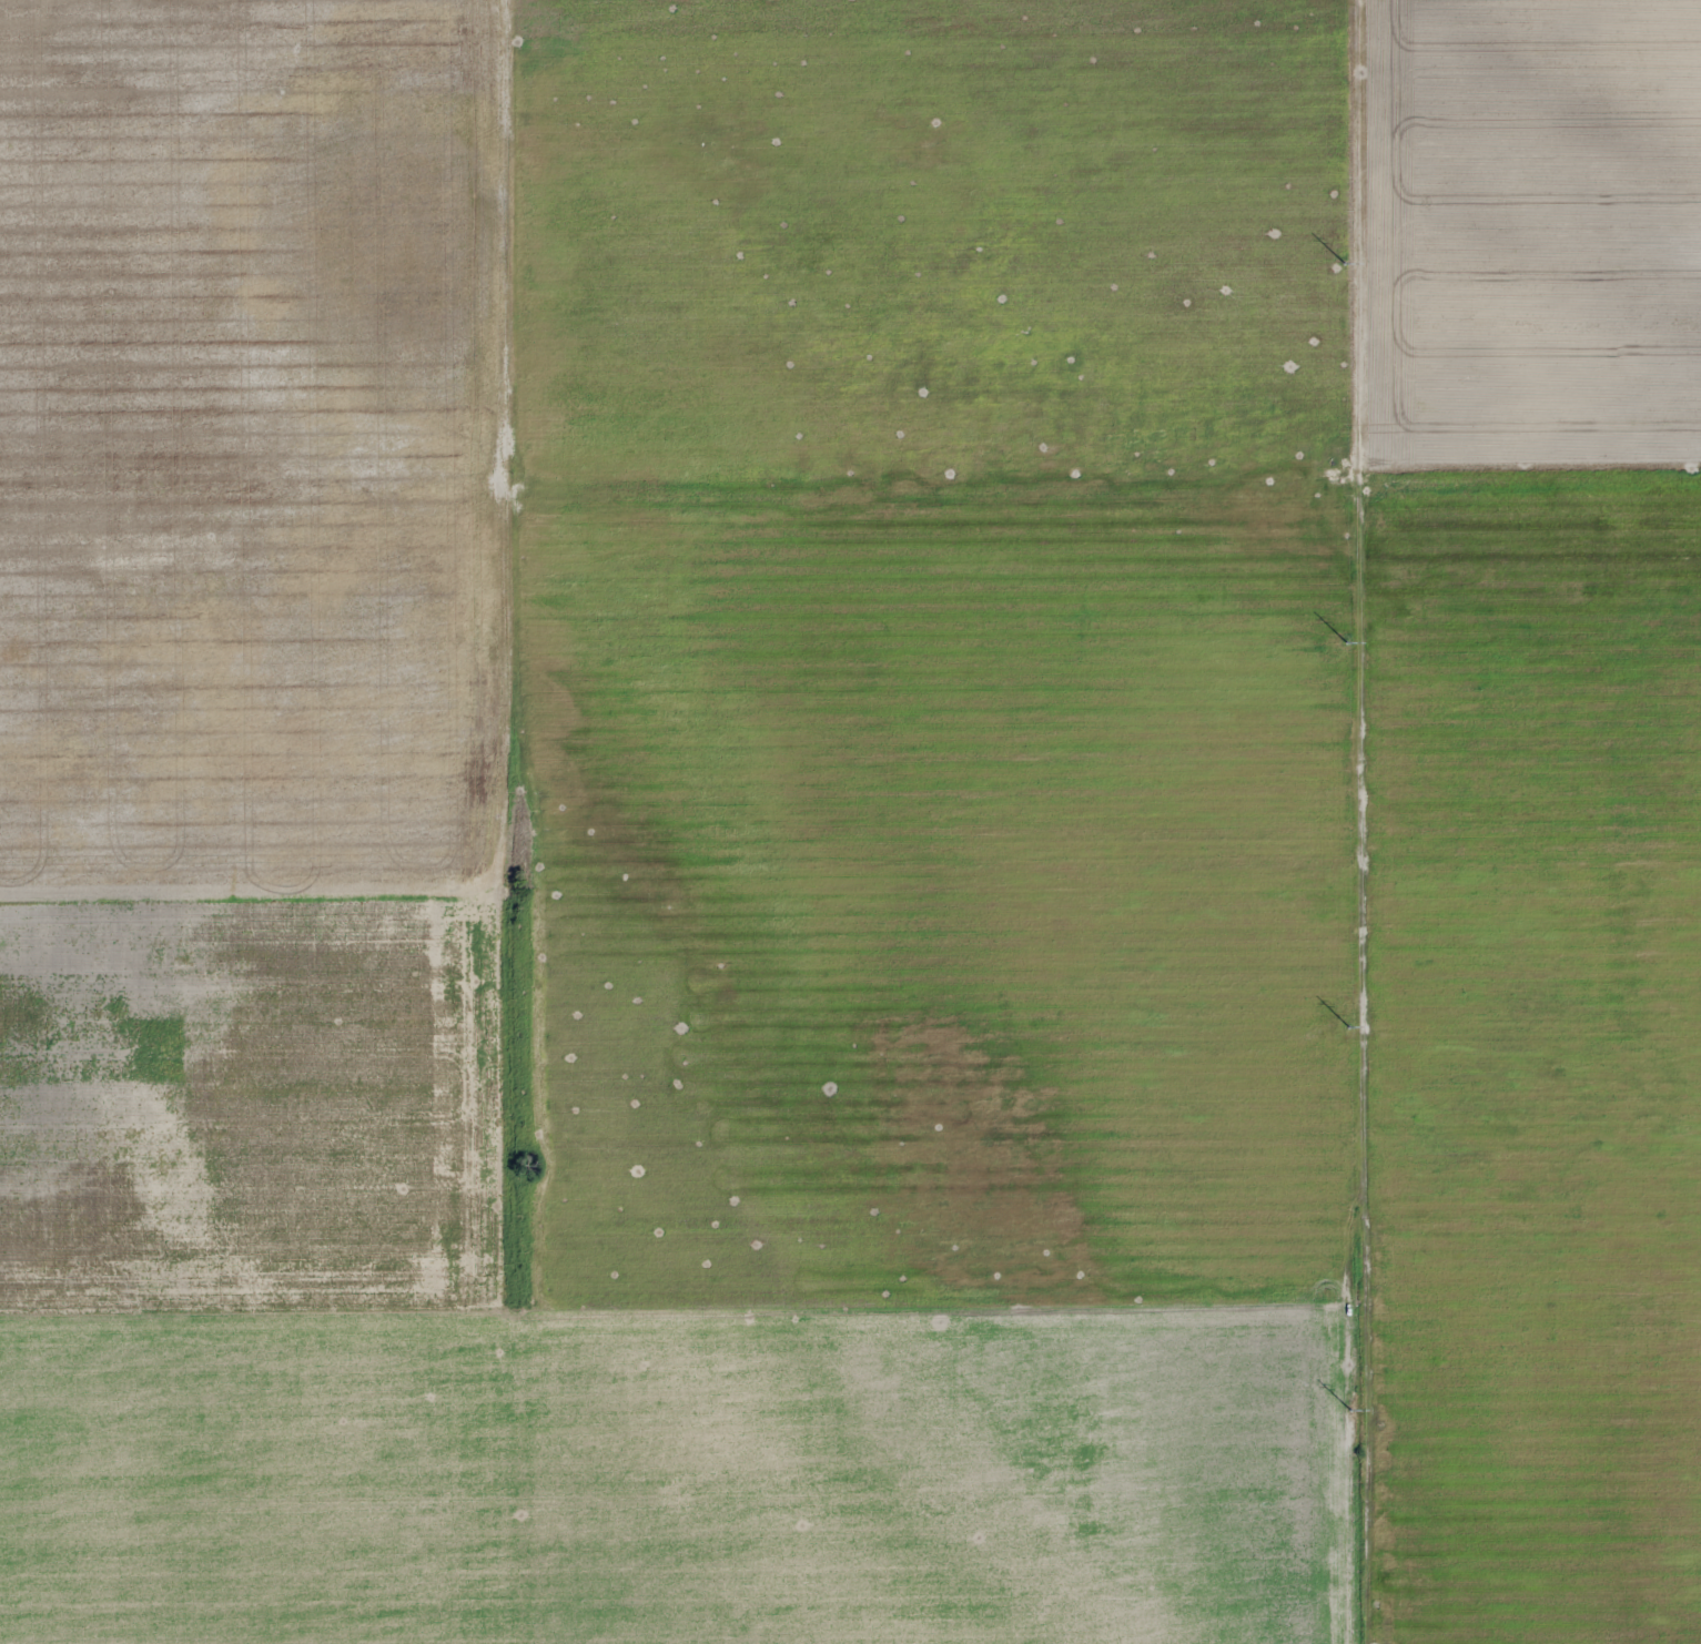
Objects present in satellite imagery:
power tower: (1344, 256)
power tower: (1347, 635)
road: (1371, 822)
power tower: (1349, 1018)
power tower: (1351, 1402)

